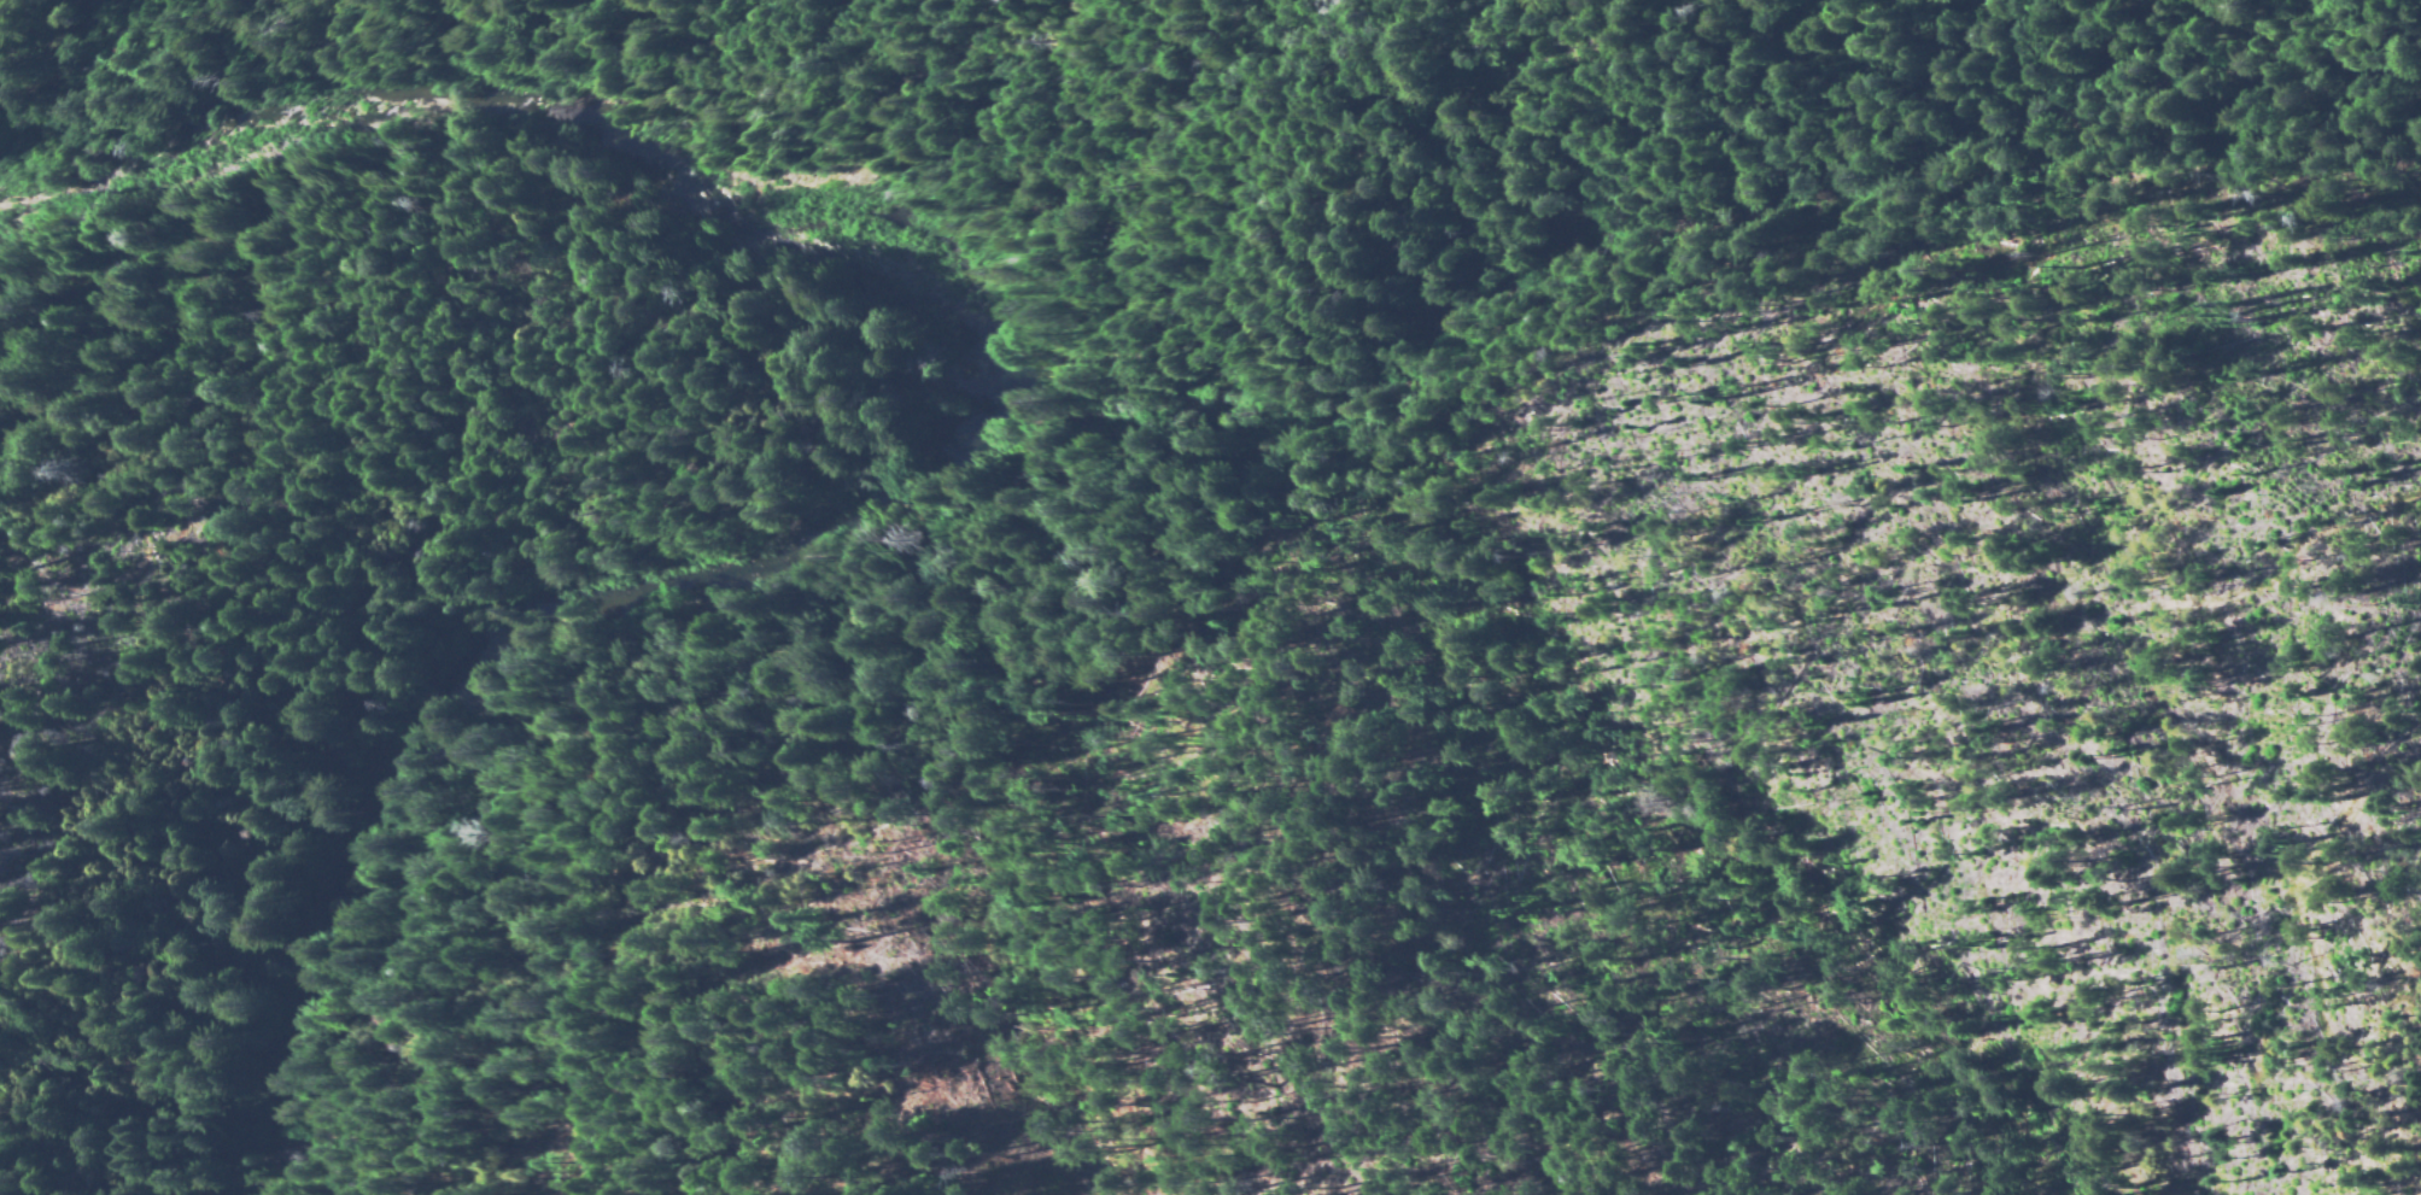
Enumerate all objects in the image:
river: (955, 435)

